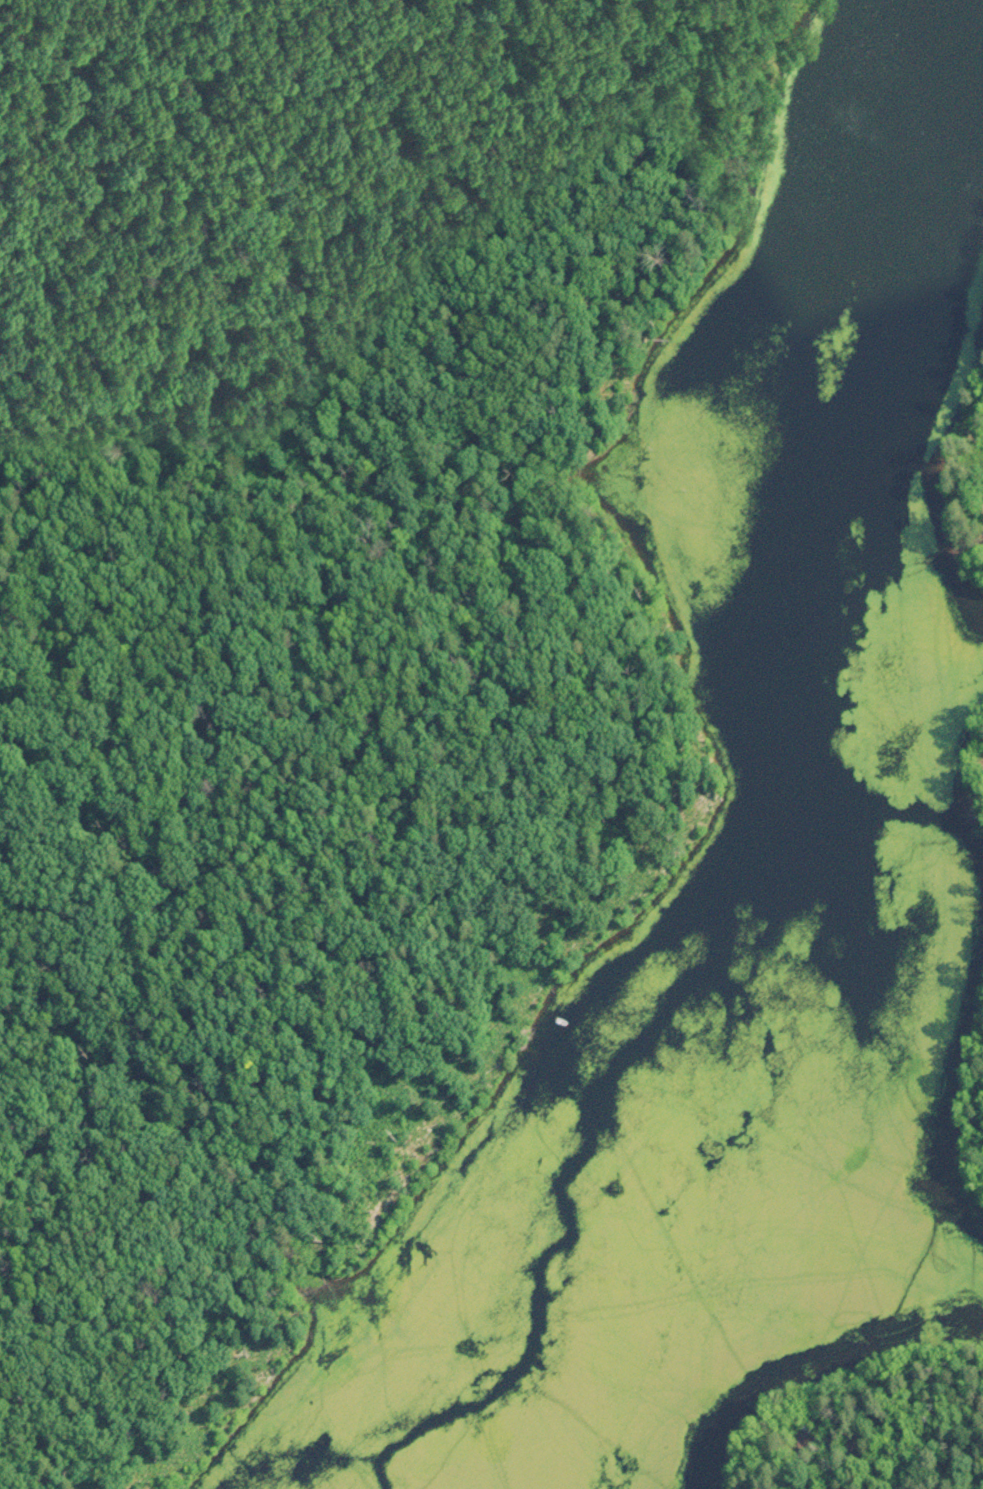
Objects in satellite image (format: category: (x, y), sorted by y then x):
road: (553, 239)
road: (266, 282)
road: (244, 742)

